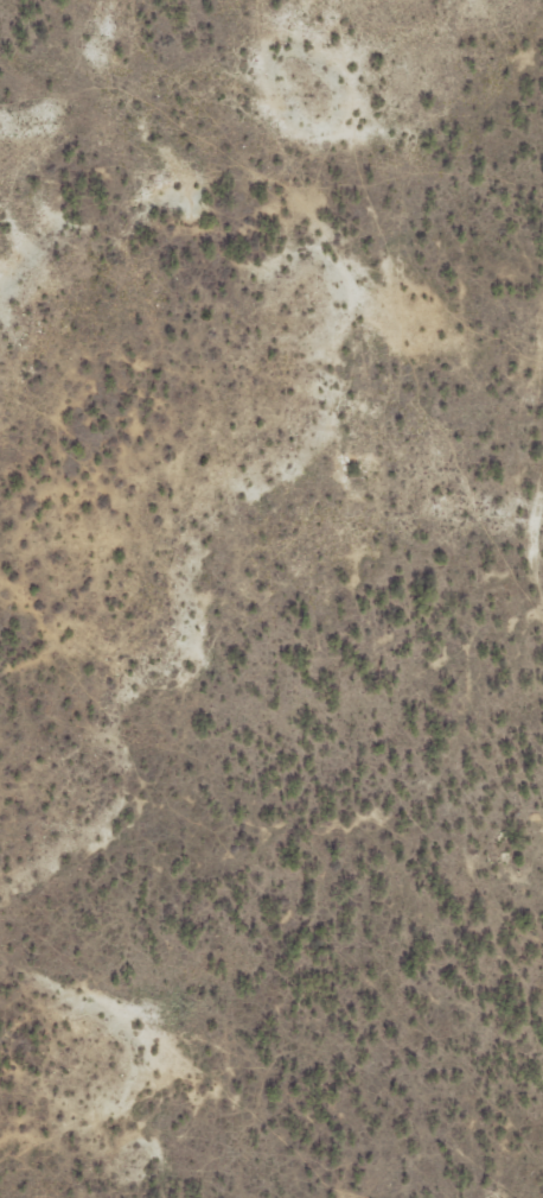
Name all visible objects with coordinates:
road: (535, 623)

